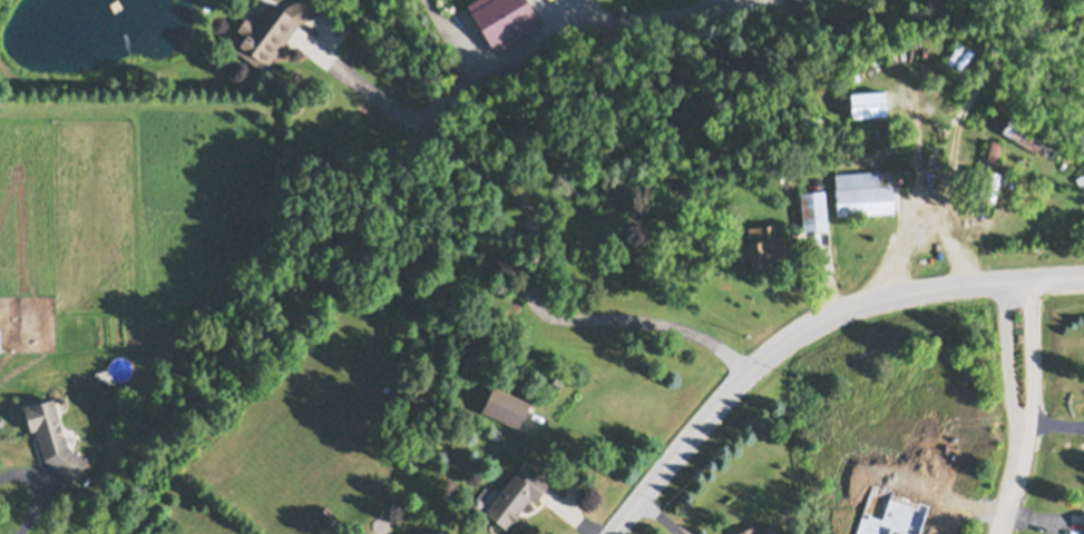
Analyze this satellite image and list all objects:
road: (702, 6)
building: (504, 18)
building: (270, 28)
road: (362, 87)
building: (837, 119)
building: (1023, 123)
road: (955, 141)
road: (443, 151)
building: (934, 158)
building: (988, 166)
building: (1080, 171)
building: (863, 188)
building: (813, 206)
building: (764, 240)
road: (805, 329)
building: (0, 342)
road: (1024, 408)
building: (52, 436)
building: (505, 439)
road: (33, 492)
building: (516, 494)
building: (477, 501)
building: (792, 511)
building: (328, 514)
building: (1081, 523)
building: (752, 530)
building: (410, 533)

